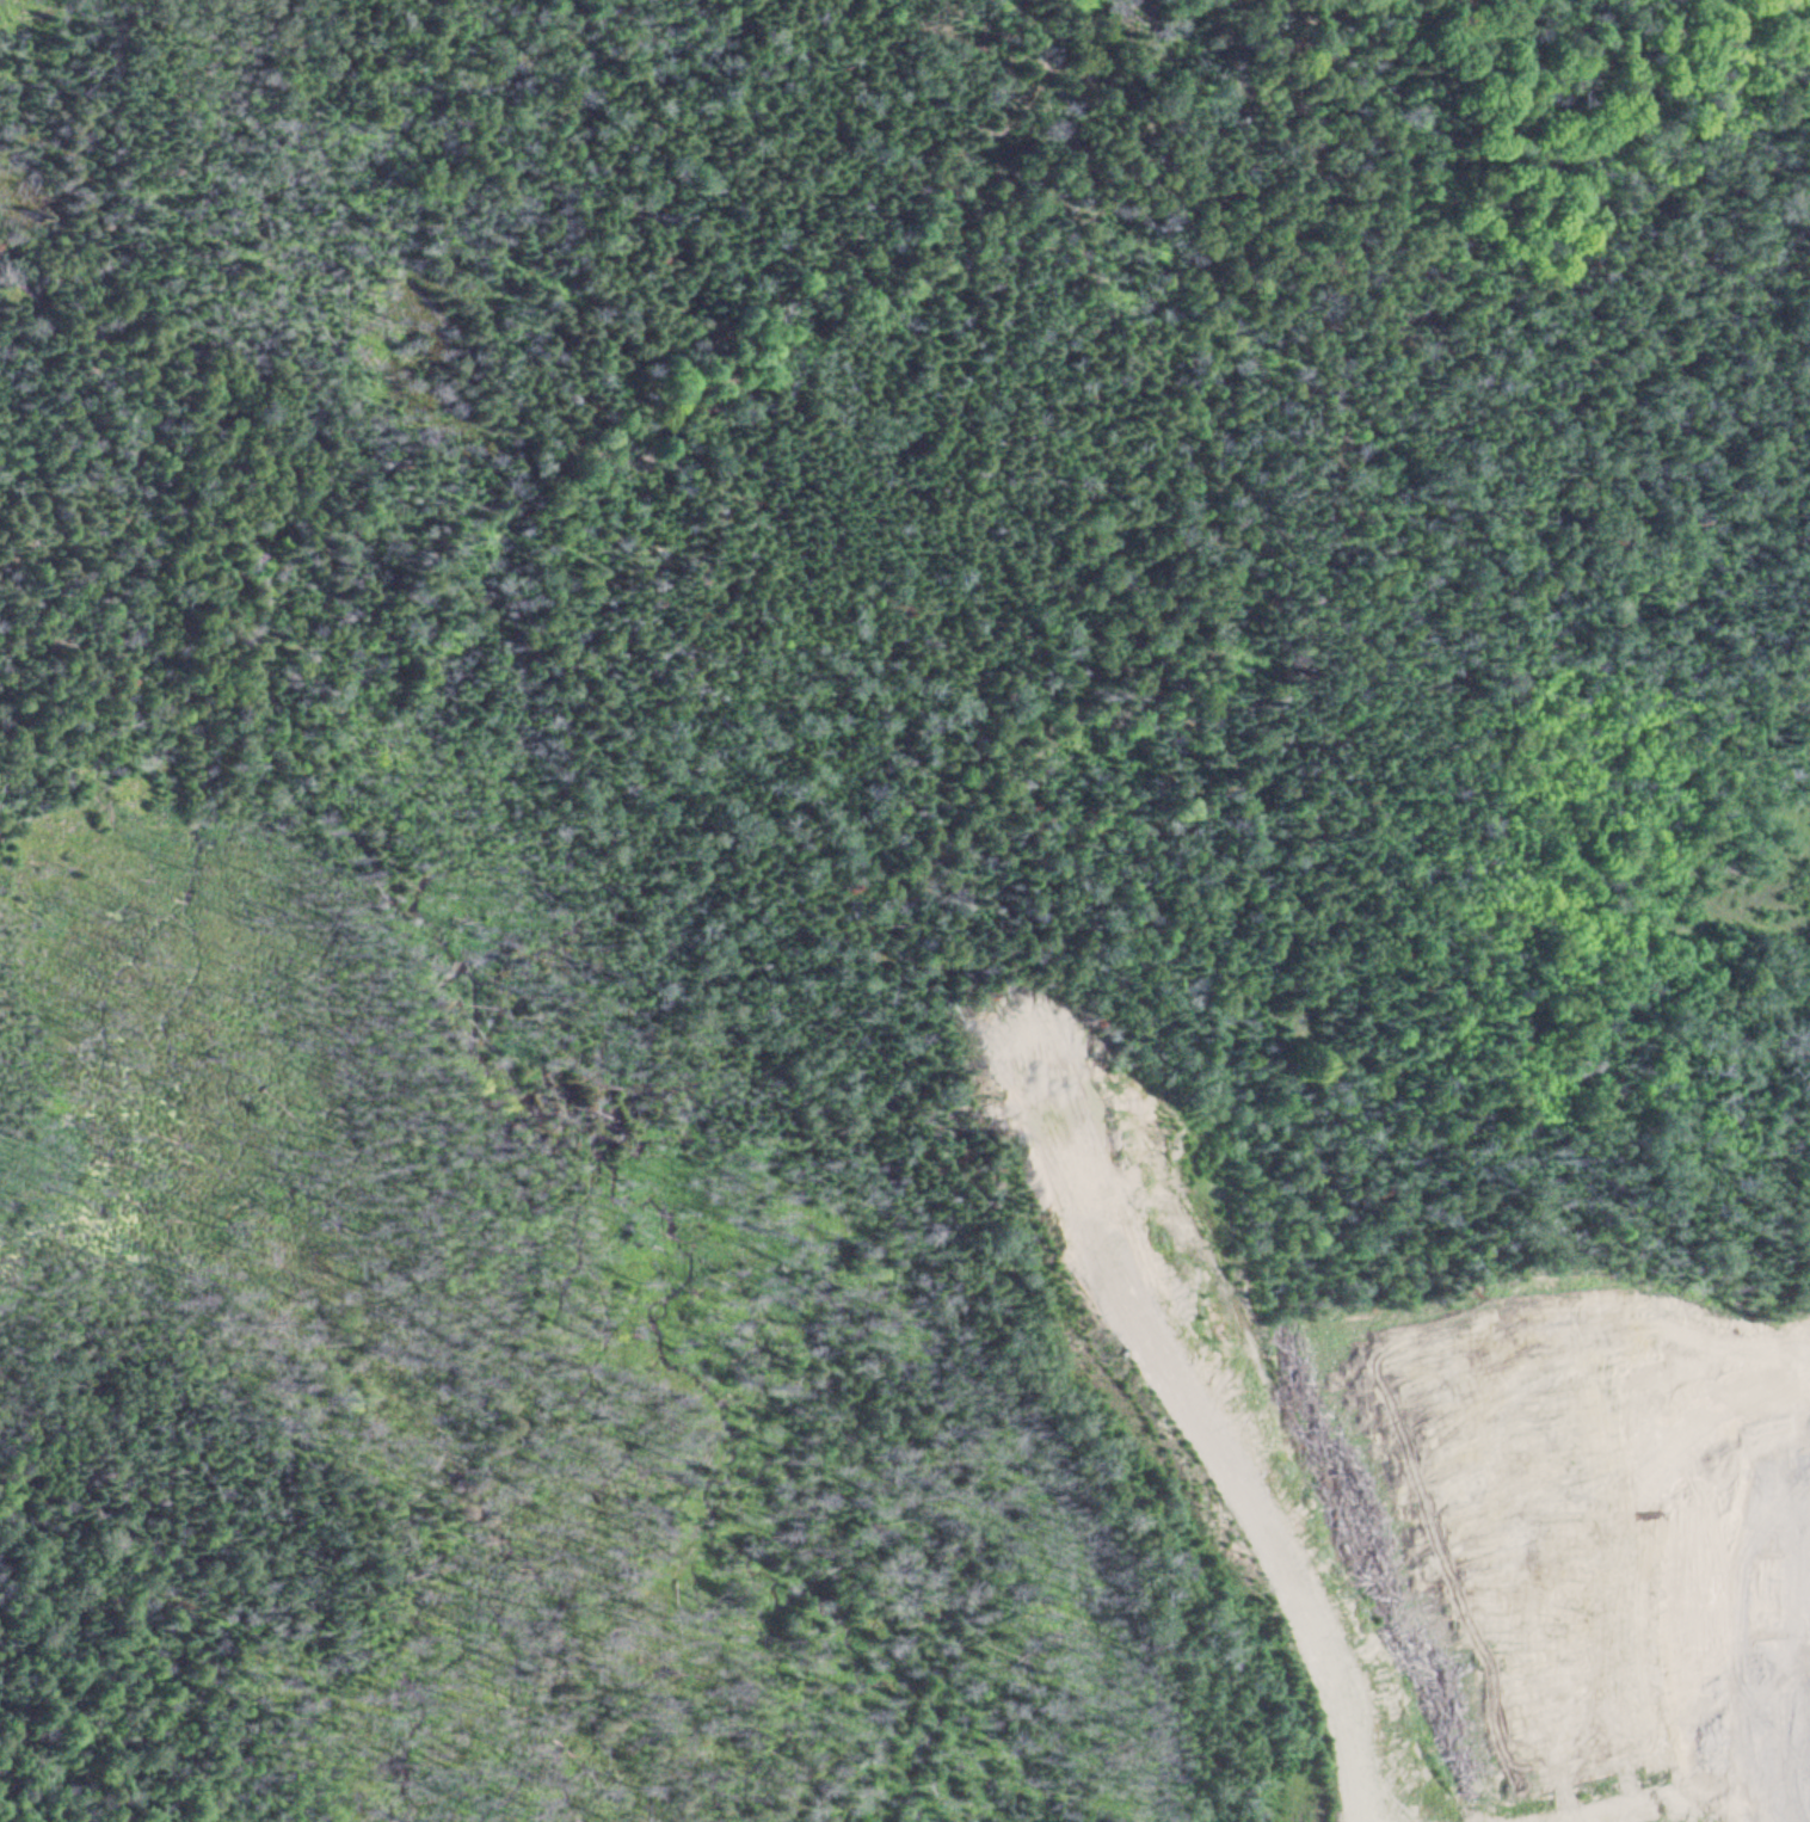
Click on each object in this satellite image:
road: (207, 362)
park: (654, 716)
quarry: (1263, 1446)

